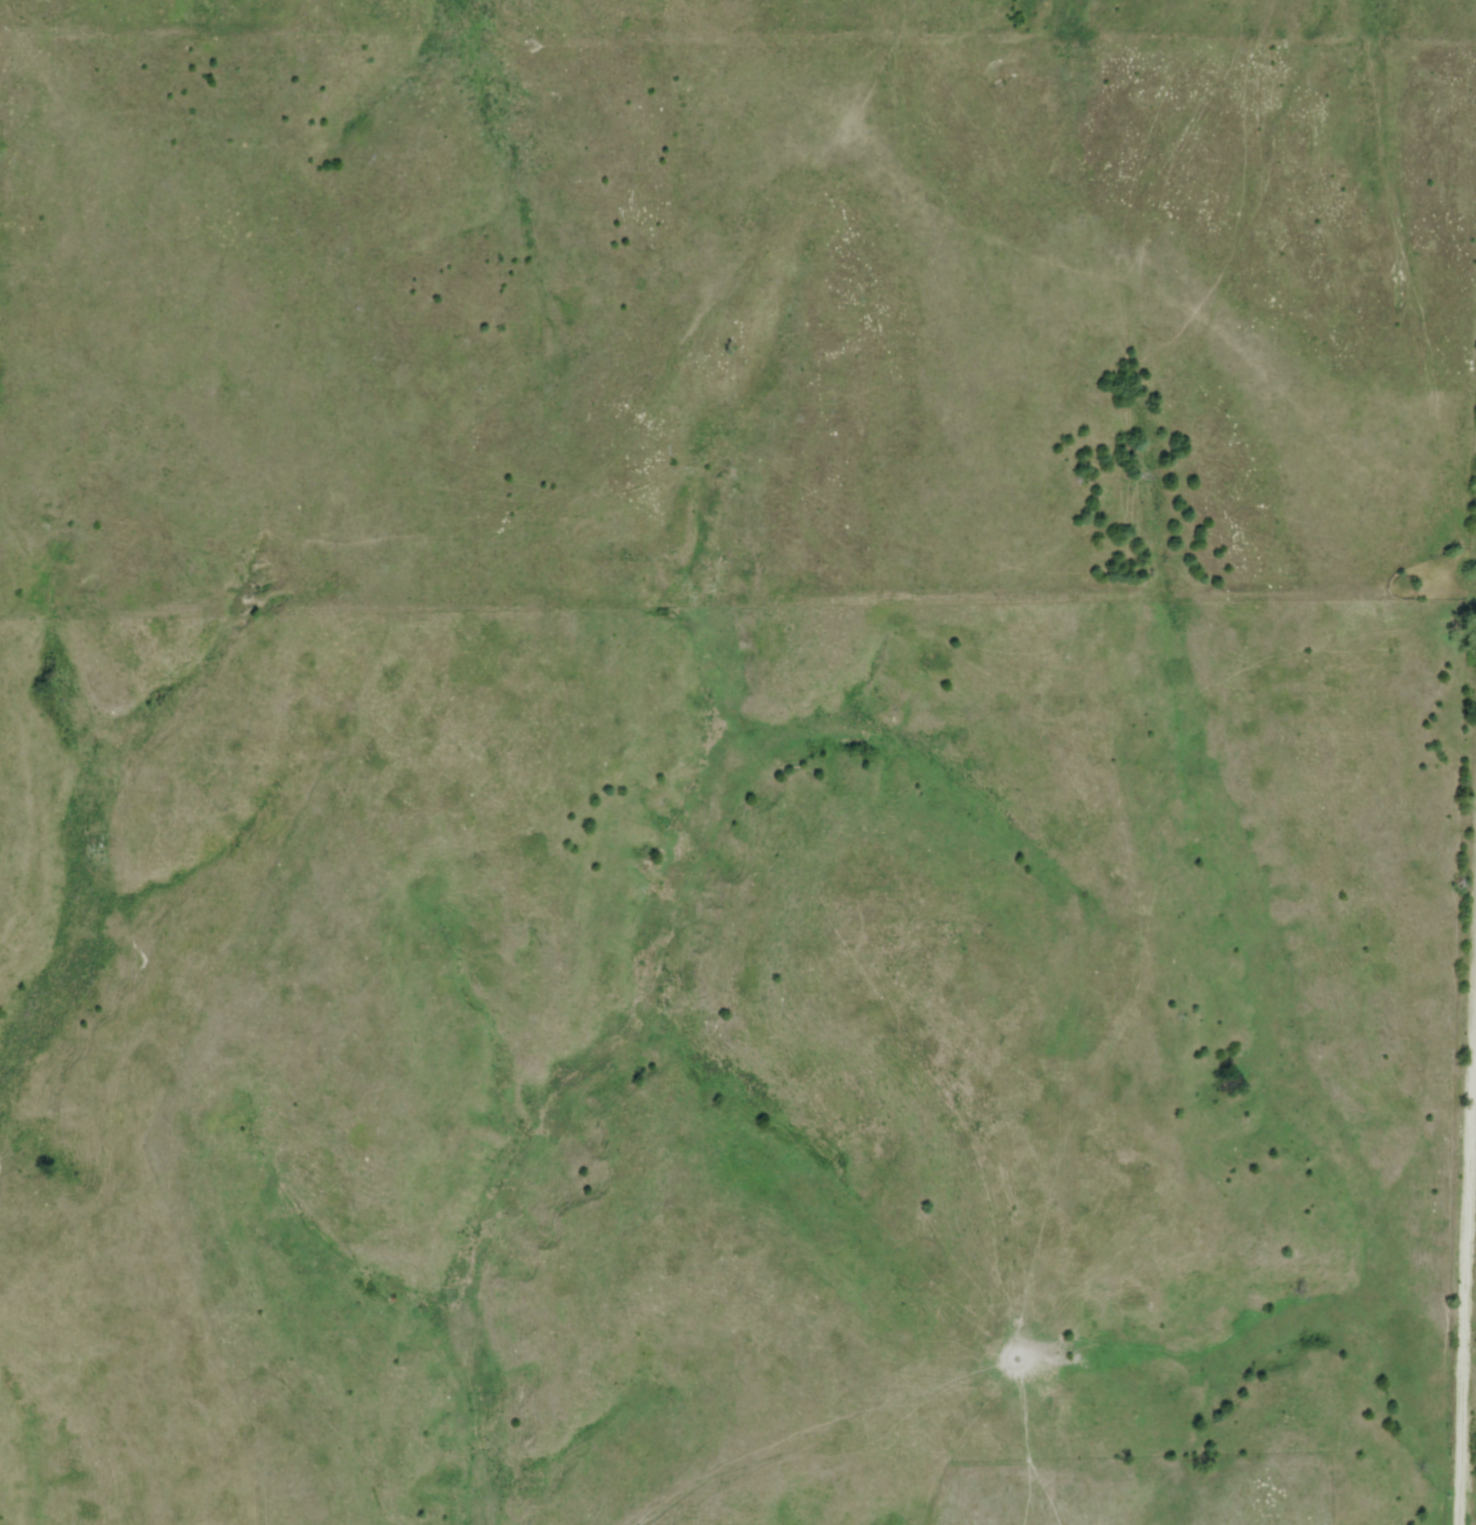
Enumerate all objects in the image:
road: (1469, 1309)

